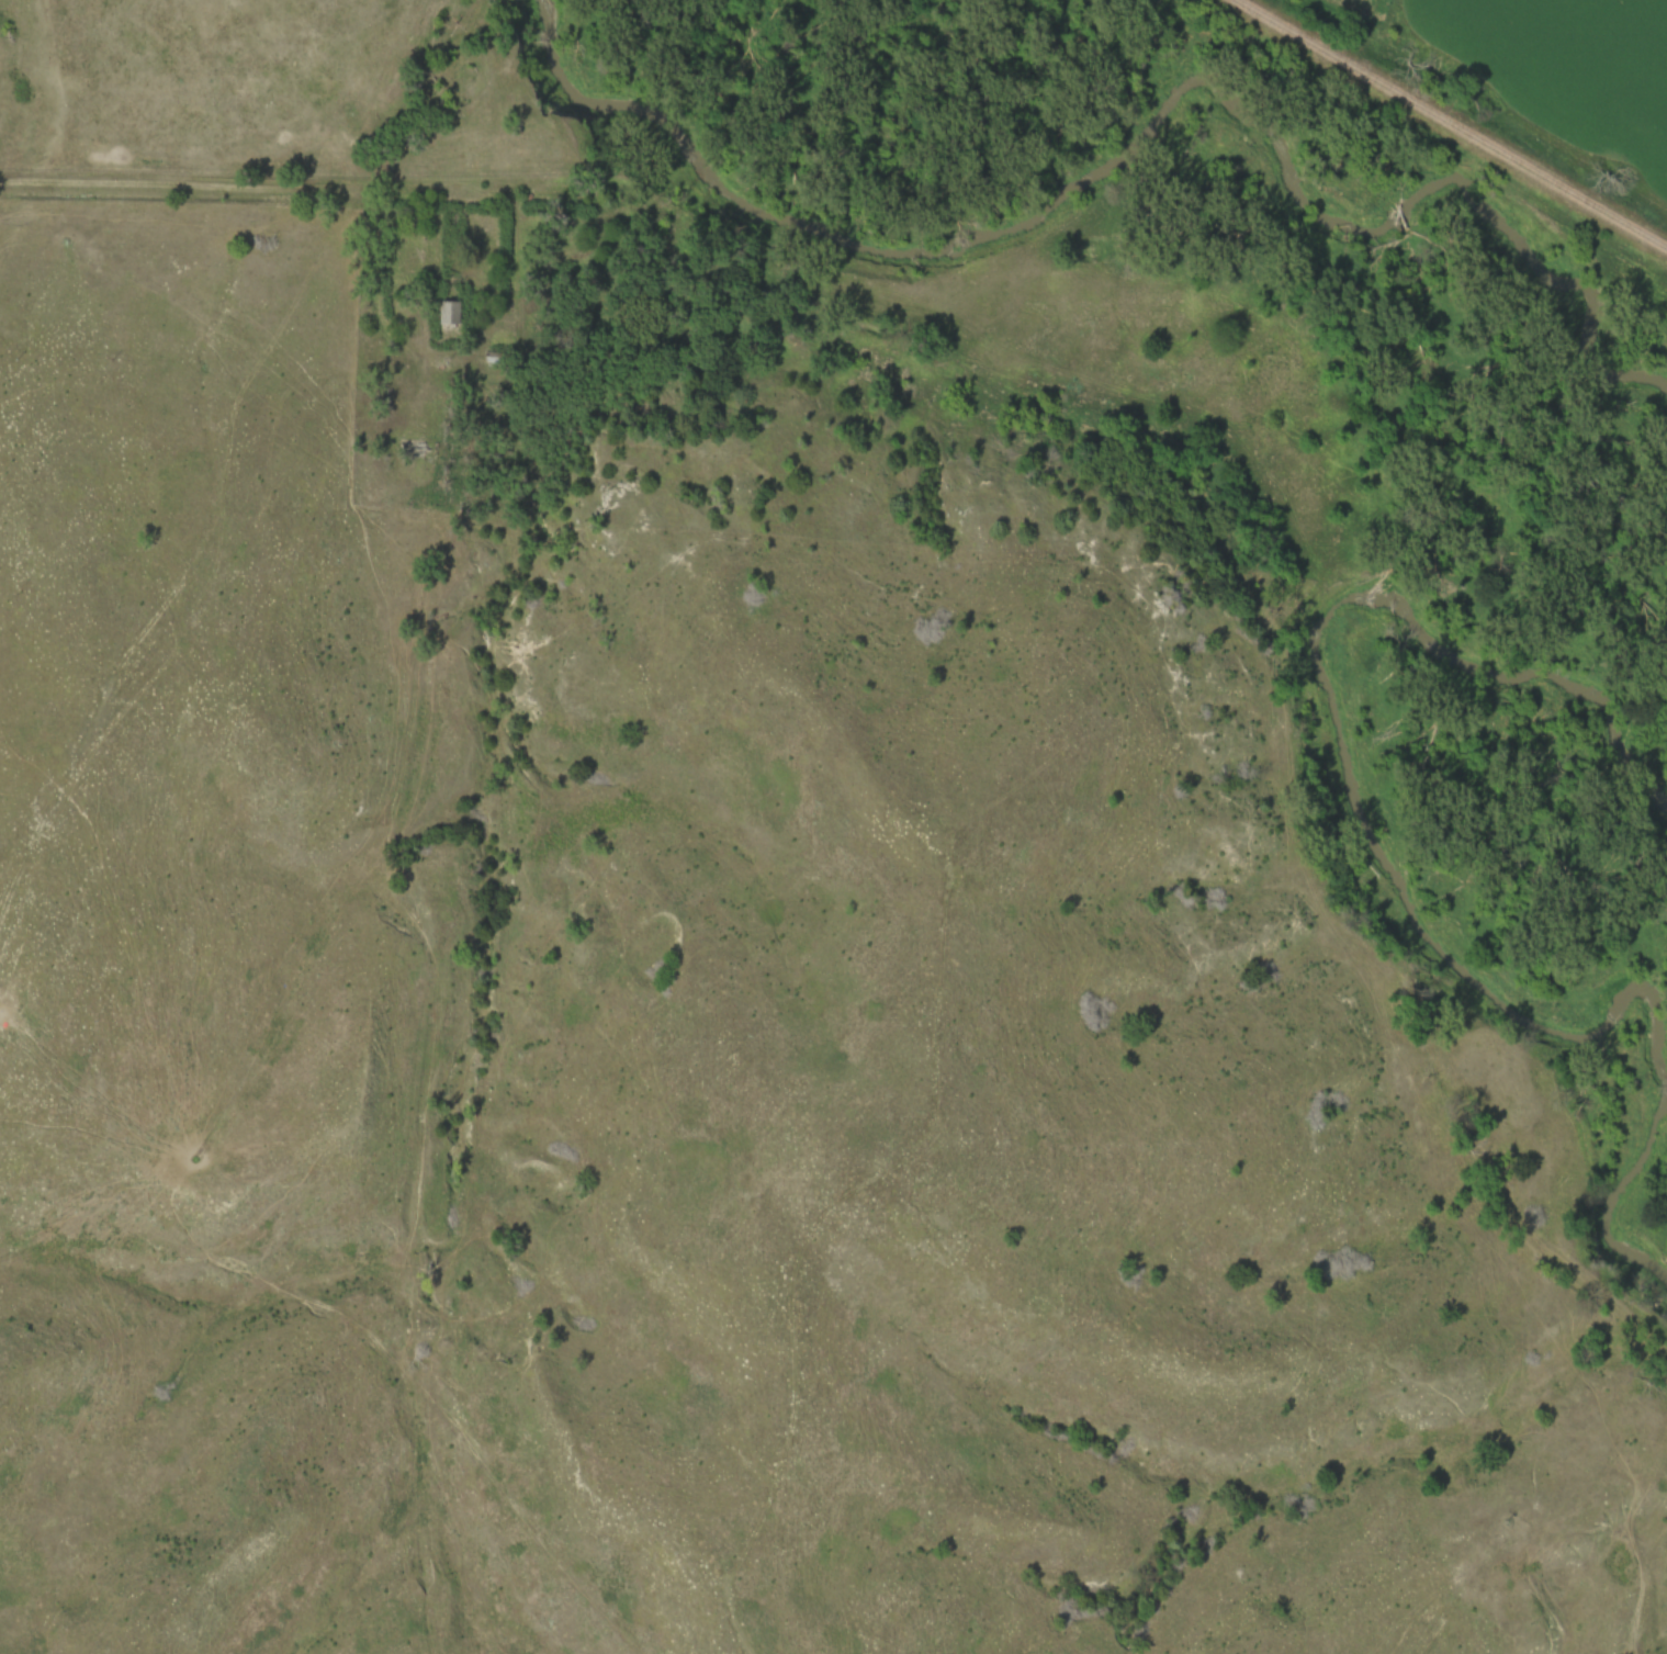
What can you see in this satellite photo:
crop: (1371, 3)
crop: (1573, 69)
railway: (1452, 122)
building: (448, 315)

